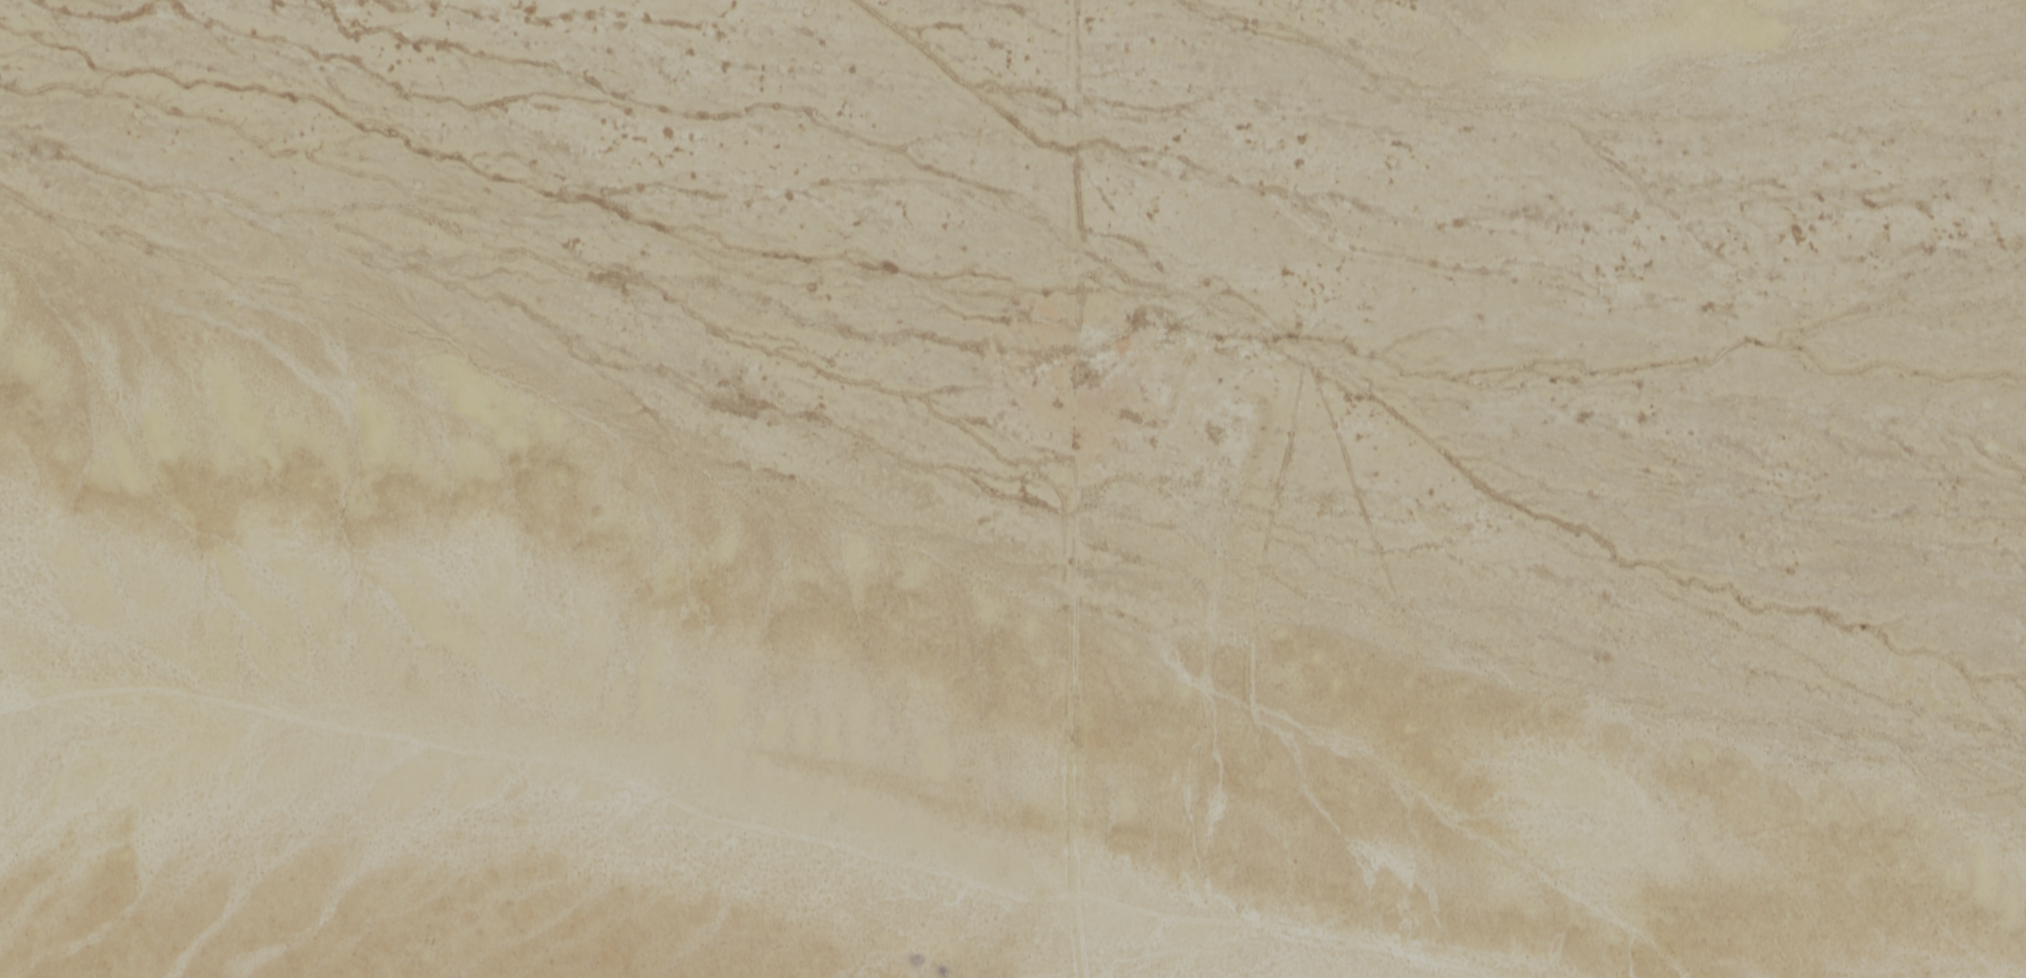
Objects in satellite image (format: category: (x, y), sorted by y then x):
road: (722, 823)

